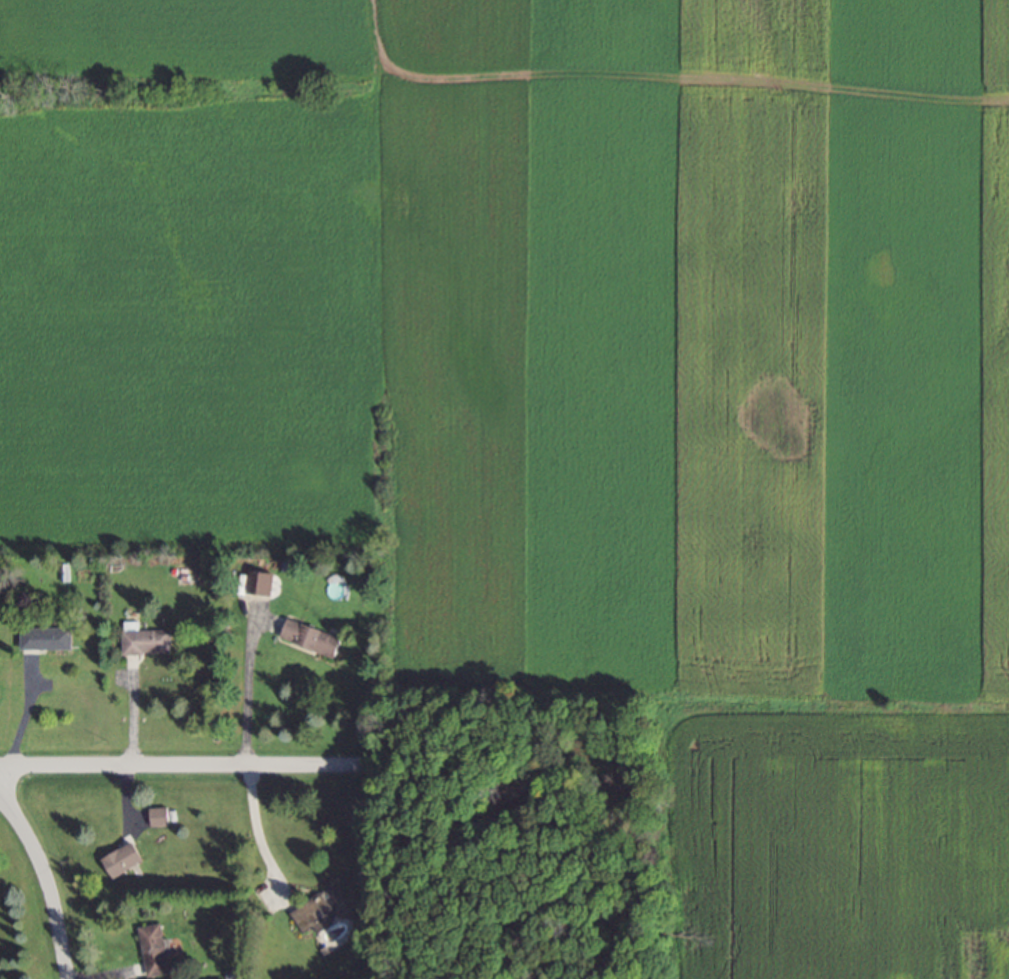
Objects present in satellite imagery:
building: (313, 636)
building: (47, 637)
building: (146, 638)
road: (180, 765)
building: (159, 815)
building: (124, 857)
road: (46, 877)
building: (319, 908)
building: (154, 948)

